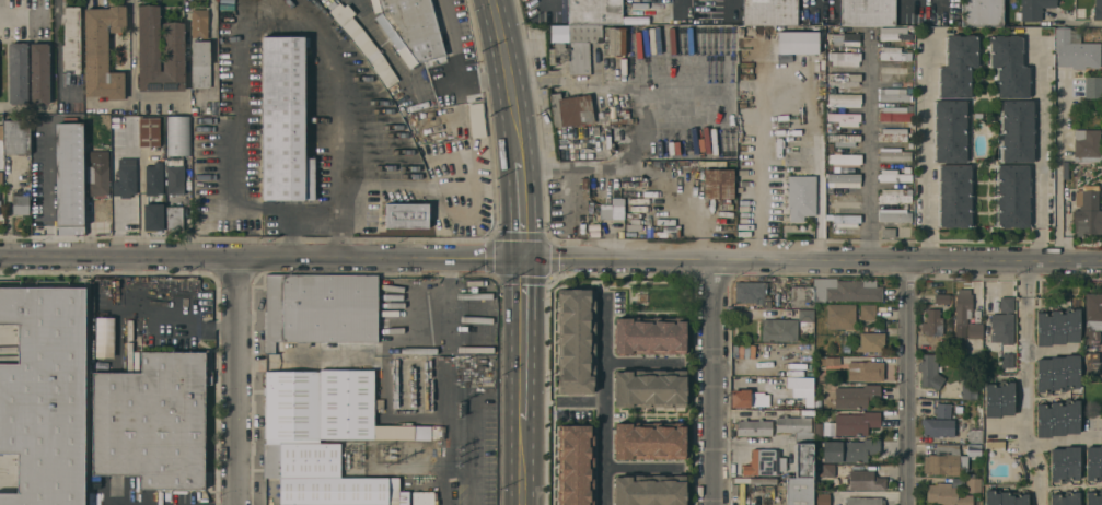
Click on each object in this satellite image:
building: (373, 5)
building: (1033, 9)
building: (1098, 10)
building: (594, 11)
building: (770, 12)
building: (868, 12)
road: (4, 13)
building: (982, 13)
road: (1077, 22)
building: (199, 24)
building: (414, 26)
building: (894, 33)
building: (71, 38)
building: (846, 38)
road: (453, 40)
building: (615, 40)
building: (797, 42)
building: (575, 46)
building: (1075, 49)
building: (103, 51)
road: (387, 51)
building: (160, 52)
road: (134, 54)
building: (891, 54)
road: (58, 55)
building: (845, 58)
building: (200, 63)
building: (959, 66)
building: (1009, 66)
building: (18, 73)
building: (39, 73)
building: (844, 79)
road: (472, 80)
road: (511, 81)
building: (819, 85)
building: (1093, 86)
building: (776, 87)
building: (895, 95)
building: (845, 99)
building: (571, 109)
building: (895, 114)
building: (844, 118)
road: (338, 119)
building: (476, 120)
building: (285, 121)
building: (951, 131)
building: (1017, 131)
building: (149, 132)
building: (893, 134)
building: (178, 136)
building: (16, 137)
building: (617, 138)
building: (844, 139)
building: (804, 144)
building: (1087, 145)
road: (1039, 151)
road: (867, 152)
road: (926, 152)
building: (1, 153)
road: (817, 153)
building: (895, 154)
building: (843, 160)
road: (231, 164)
road: (1062, 167)
building: (175, 175)
building: (97, 176)
building: (892, 176)
building: (69, 178)
building: (125, 178)
building: (153, 178)
building: (844, 180)
building: (718, 183)
building: (755, 185)
building: (894, 196)
building: (955, 196)
building: (1012, 196)
building: (20, 202)
building: (612, 210)
road: (522, 212)
building: (1089, 214)
building: (153, 215)
building: (407, 215)
building: (894, 215)
building: (174, 220)
building: (846, 220)
building: (889, 233)
traffic signals: (524, 260)
road: (550, 260)
building: (166, 286)
building: (749, 291)
building: (854, 291)
building: (801, 295)
building: (941, 298)
road: (444, 300)
building: (998, 304)
building: (360, 308)
building: (303, 309)
building: (868, 312)
building: (840, 316)
building: (970, 317)
building: (932, 324)
building: (788, 325)
building: (1057, 327)
building: (1001, 328)
building: (1092, 331)
building: (649, 337)
road: (523, 340)
building: (871, 341)
building: (573, 342)
building: (744, 347)
building: (846, 350)
building: (753, 353)
building: (743, 354)
building: (330, 355)
building: (358, 356)
building: (1007, 360)
building: (831, 361)
building: (866, 371)
building: (929, 371)
building: (775, 374)
building: (1057, 374)
road: (239, 380)
road: (712, 384)
road: (915, 384)
road: (1021, 385)
building: (648, 389)
building: (802, 389)
building: (968, 391)
building: (45, 394)
building: (856, 396)
building: (747, 398)
building: (998, 398)
road: (582, 401)
road: (607, 401)
building: (330, 403)
building: (942, 410)
building: (369, 411)
building: (807, 412)
building: (1057, 418)
building: (152, 421)
building: (855, 422)
building: (976, 426)
building: (753, 427)
building: (938, 427)
road: (1002, 428)
building: (819, 431)
building: (649, 442)
road: (1065, 442)
building: (799, 443)
building: (995, 444)
building: (310, 449)
building: (849, 449)
building: (974, 449)
building: (942, 460)
road: (522, 462)
building: (762, 462)
building: (1064, 463)
building: (1093, 463)
building: (572, 465)
building: (851, 475)
building: (755, 480)
building: (90, 484)
building: (973, 484)
building: (650, 490)
building: (799, 491)
road: (430, 495)
building: (947, 495)
building: (821, 497)
building: (1005, 497)
building: (1093, 497)
building: (421, 498)
building: (1065, 498)
building: (865, 501)

